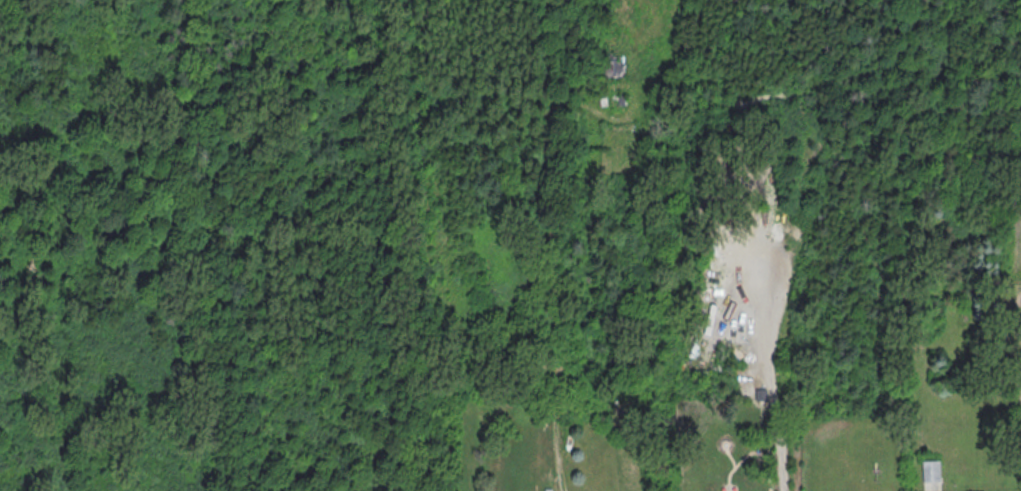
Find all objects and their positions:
building: (616, 66)
road: (777, 402)
building: (931, 470)

